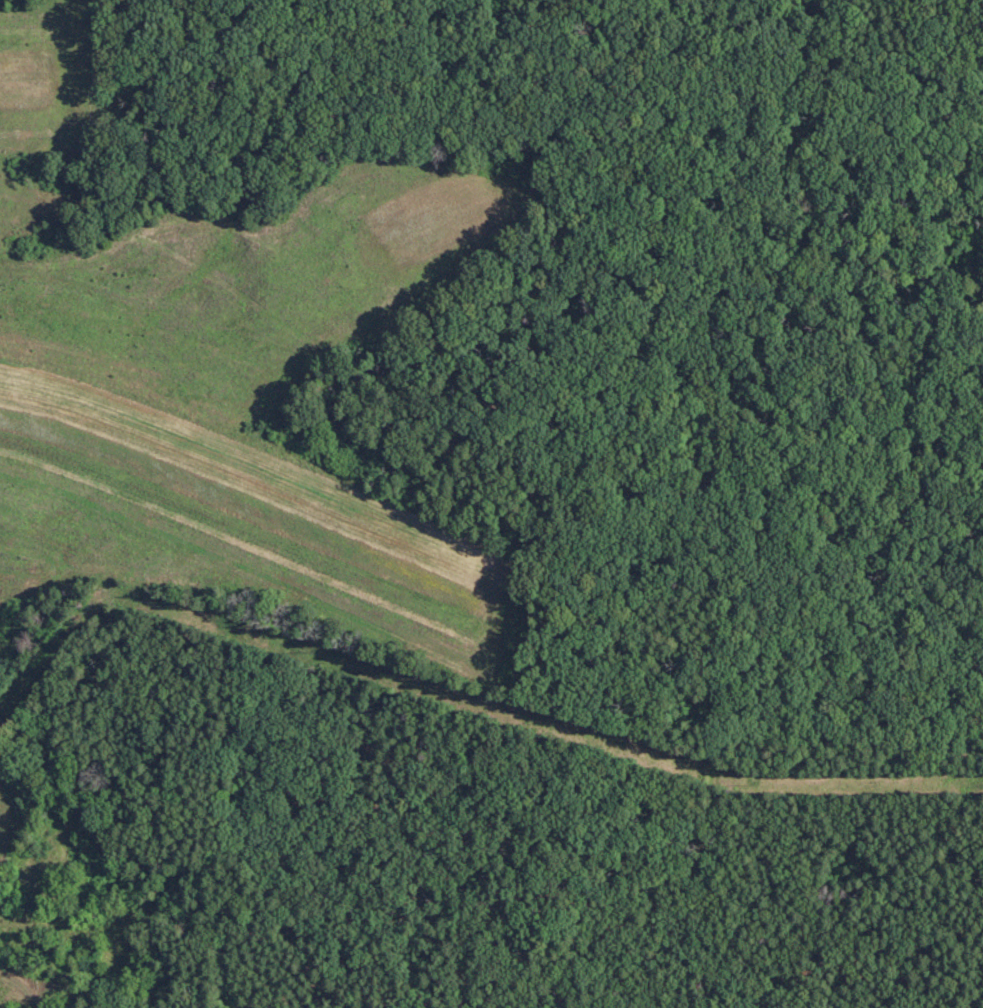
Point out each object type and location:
road: (741, 832)
road: (49, 992)
building: (5, 996)
road: (292, 1002)

